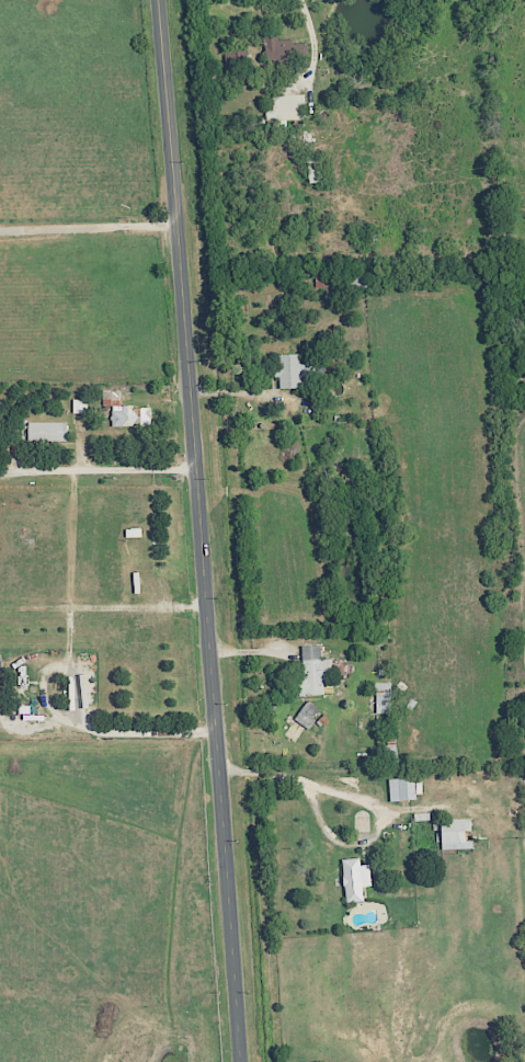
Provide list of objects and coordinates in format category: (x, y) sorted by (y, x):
road: (312, 35)
building: (284, 52)
building: (287, 107)
road: (89, 227)
building: (341, 279)
building: (290, 369)
building: (79, 406)
building: (125, 411)
building: (46, 431)
road: (96, 471)
road: (198, 530)
road: (107, 608)
building: (310, 672)
building: (381, 697)
building: (306, 713)
road: (68, 721)
road: (303, 784)
building: (401, 789)
building: (421, 820)
building: (454, 833)
building: (354, 879)

